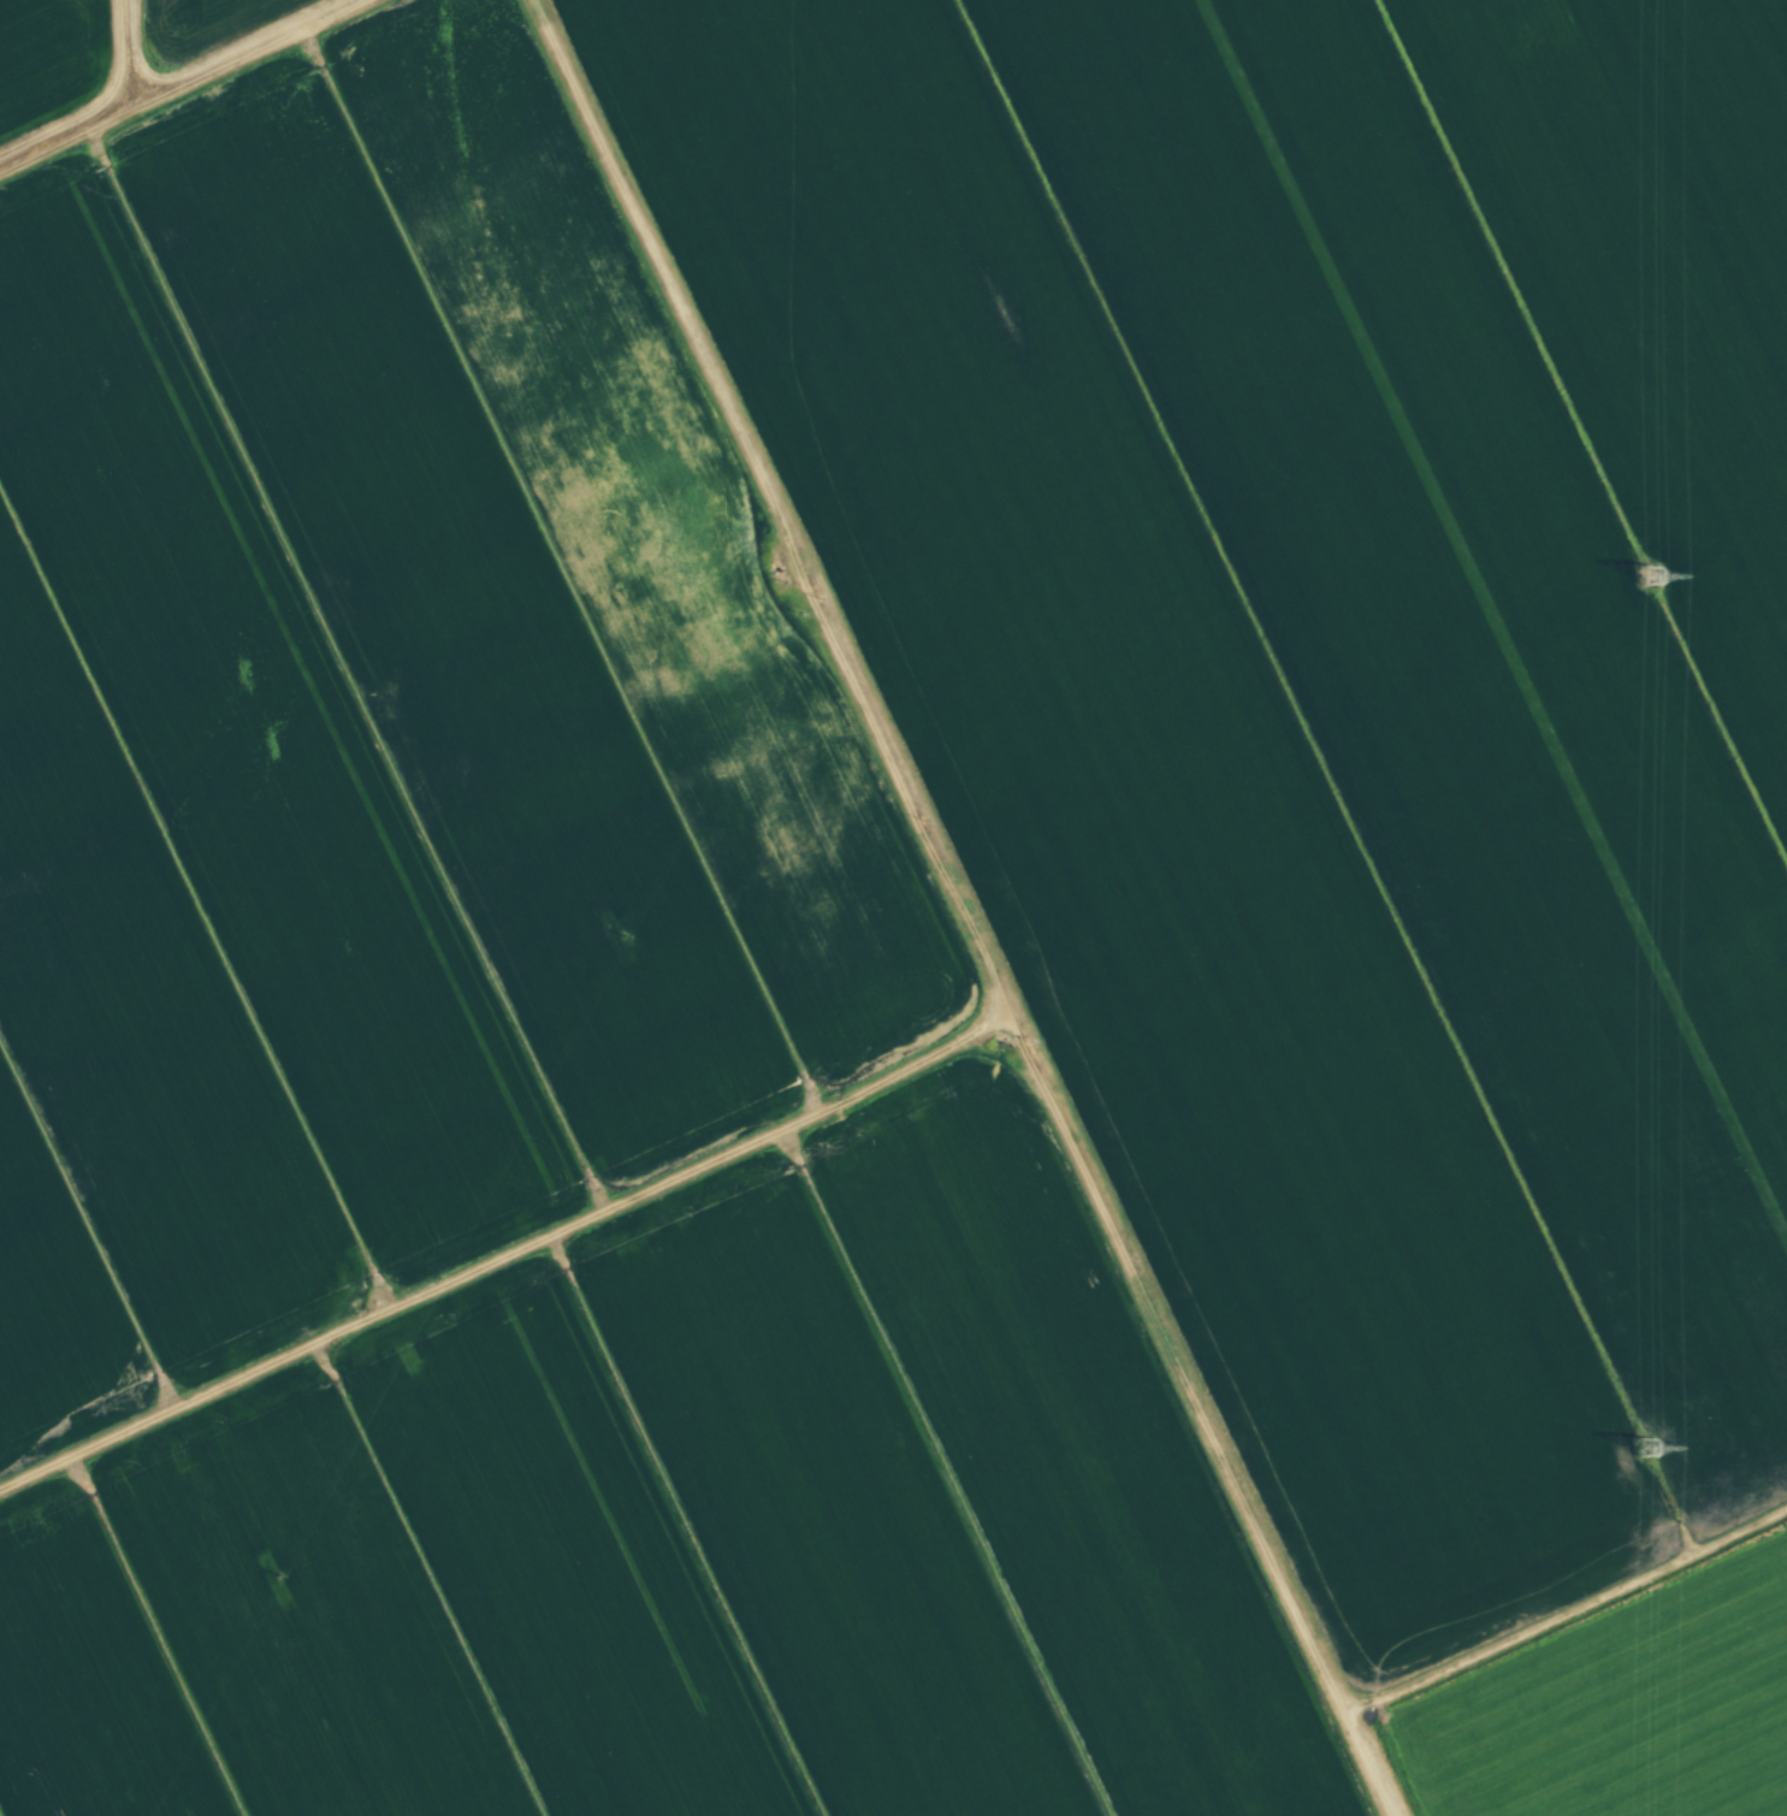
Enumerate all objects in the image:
power tower: (1650, 576)
power tower: (1647, 1449)

